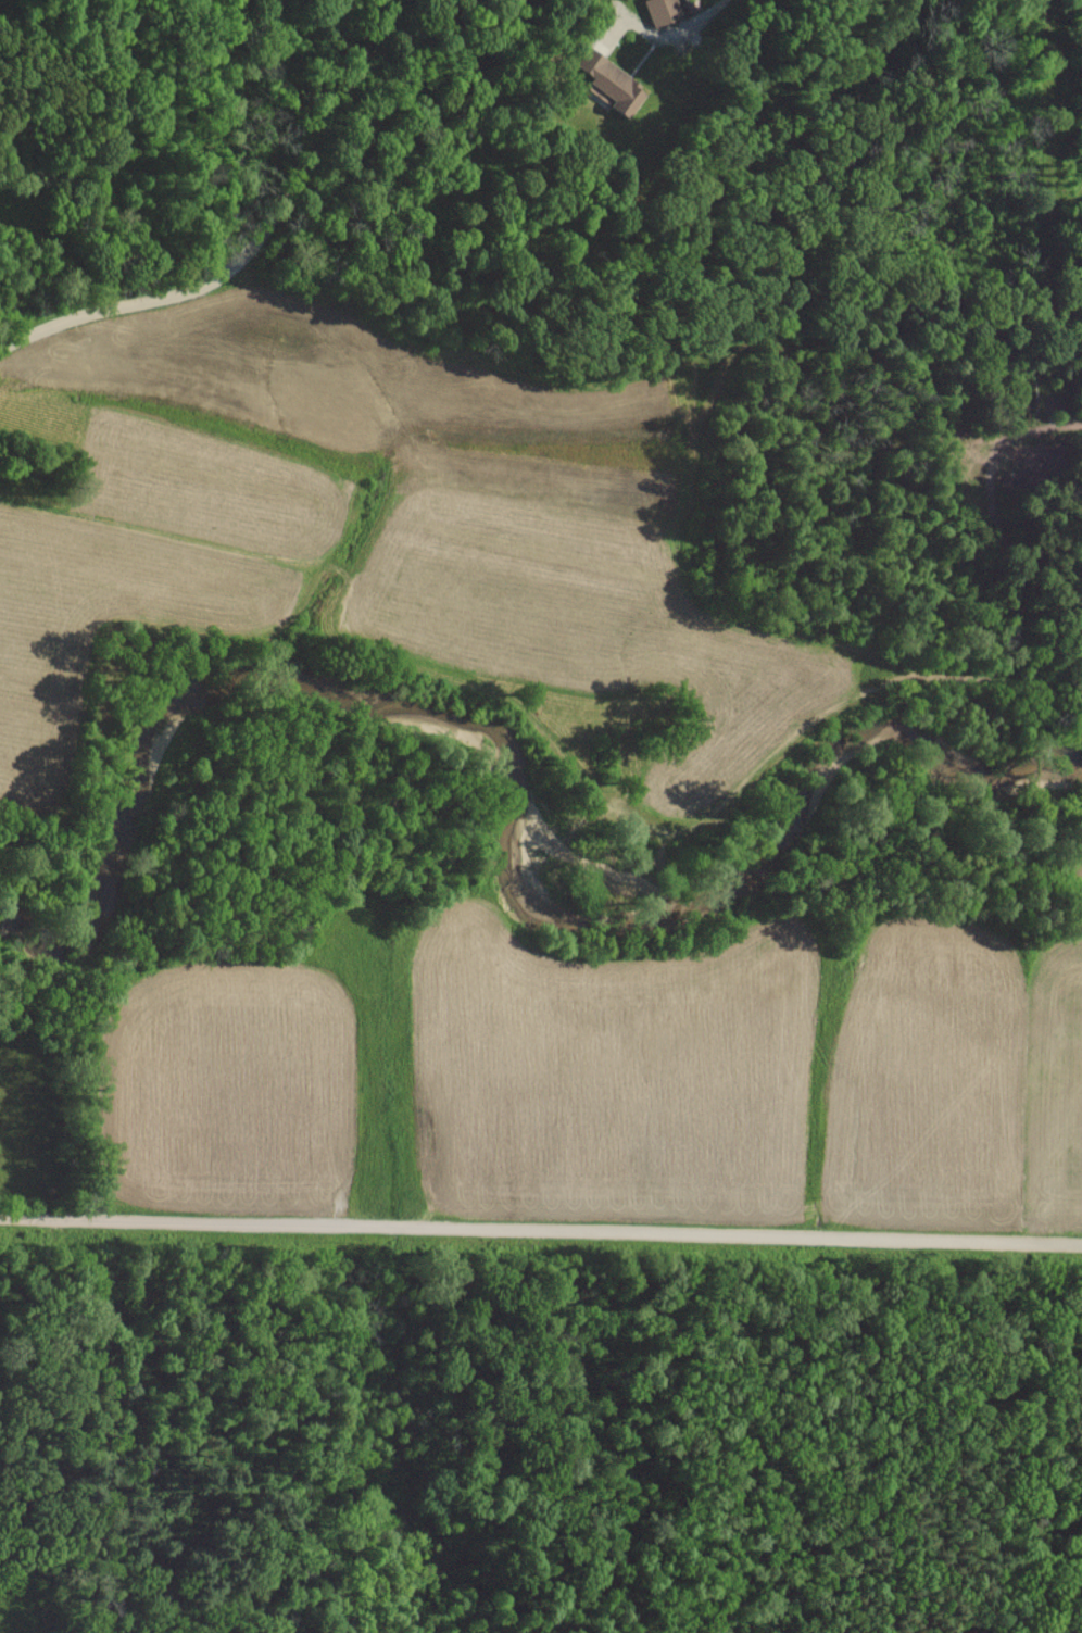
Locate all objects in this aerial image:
building: (663, 11)
road: (704, 20)
building: (619, 87)
road: (260, 228)
road: (540, 1230)

